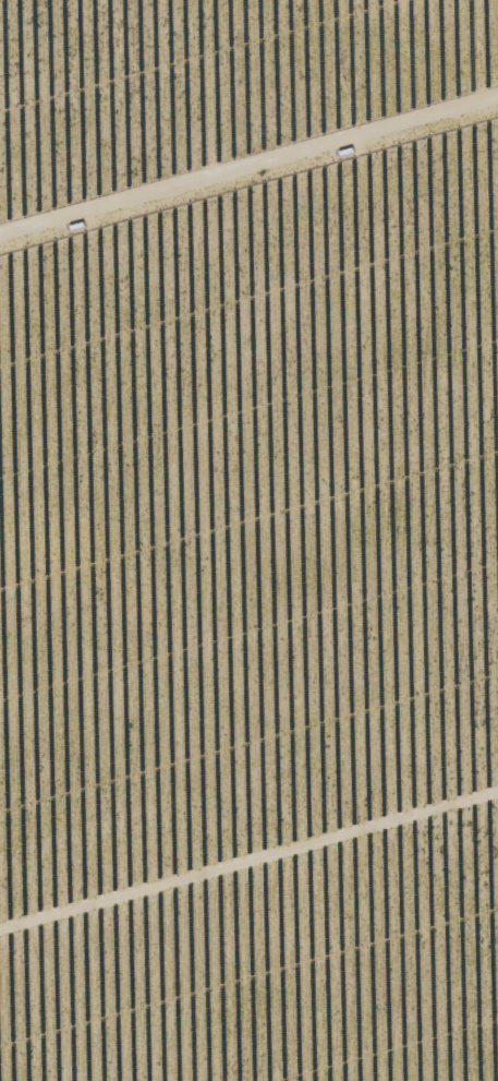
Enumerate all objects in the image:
solar farm: (248, 540)

